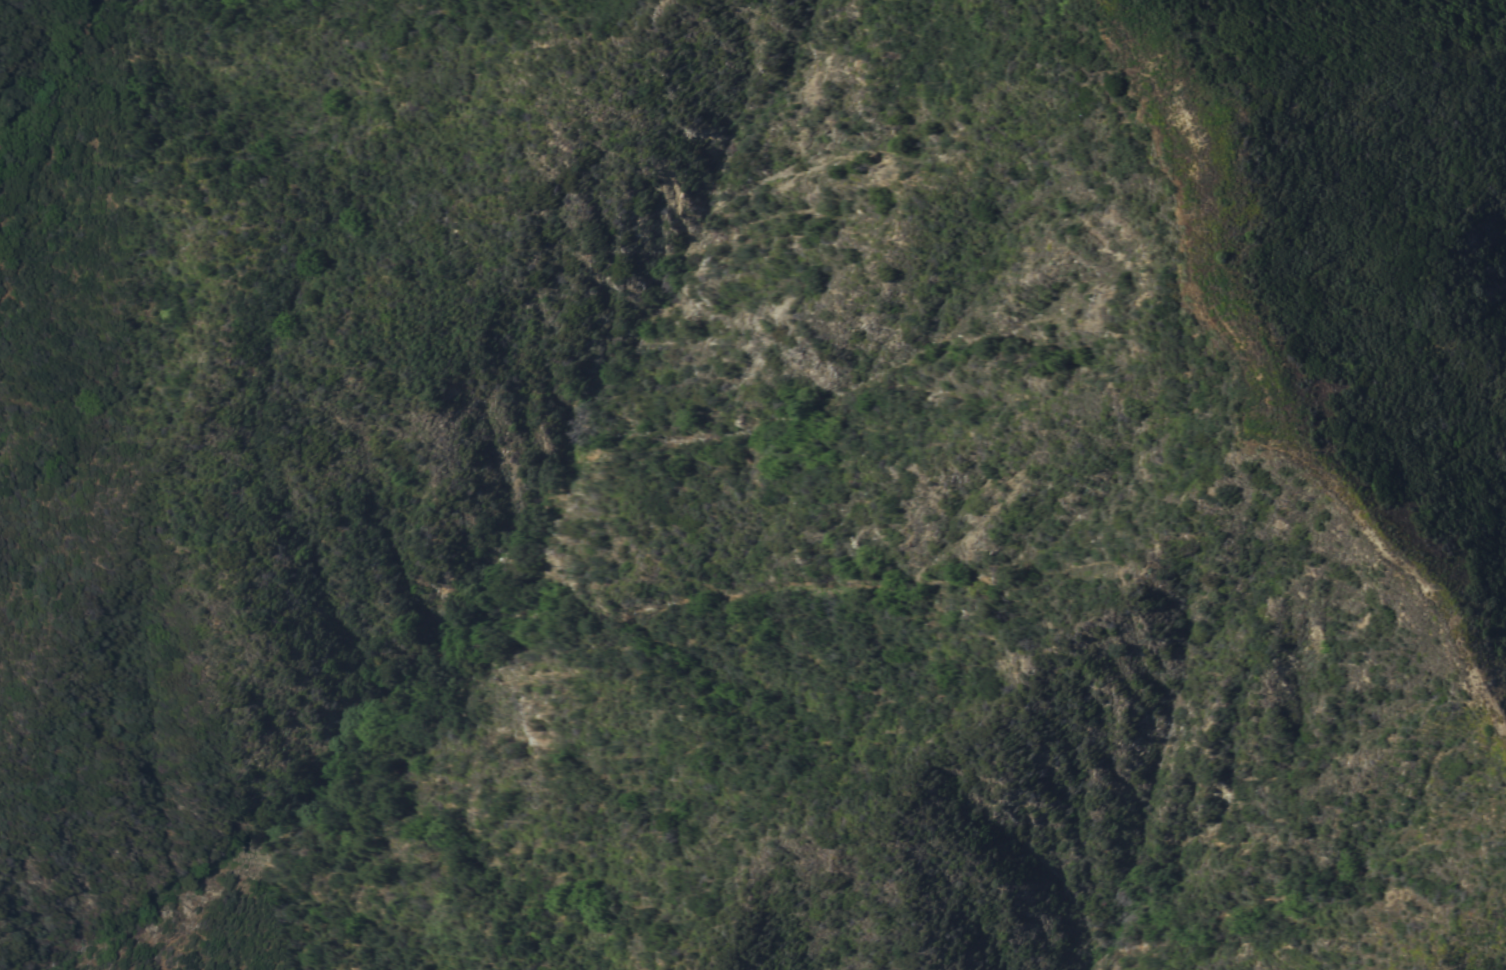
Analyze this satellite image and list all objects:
road: (1254, 385)

